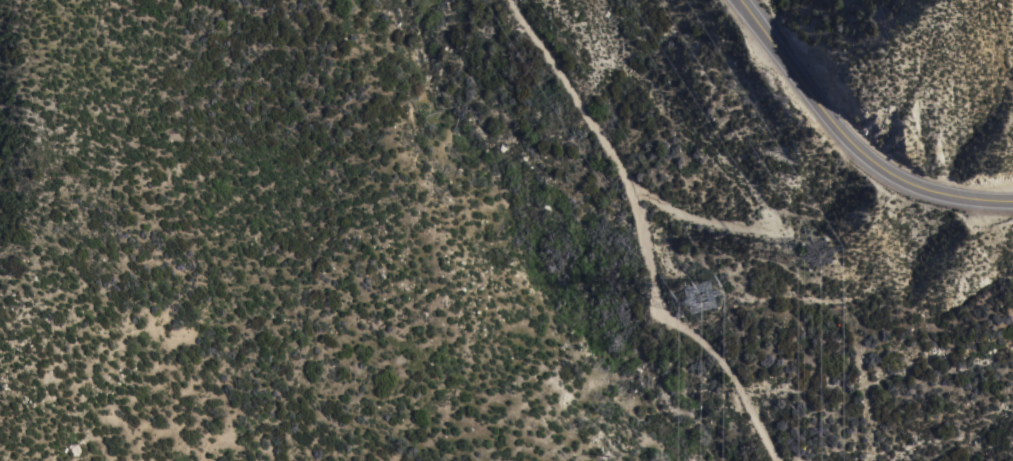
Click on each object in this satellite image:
road: (850, 140)
power tower: (825, 252)
power tower: (717, 310)

